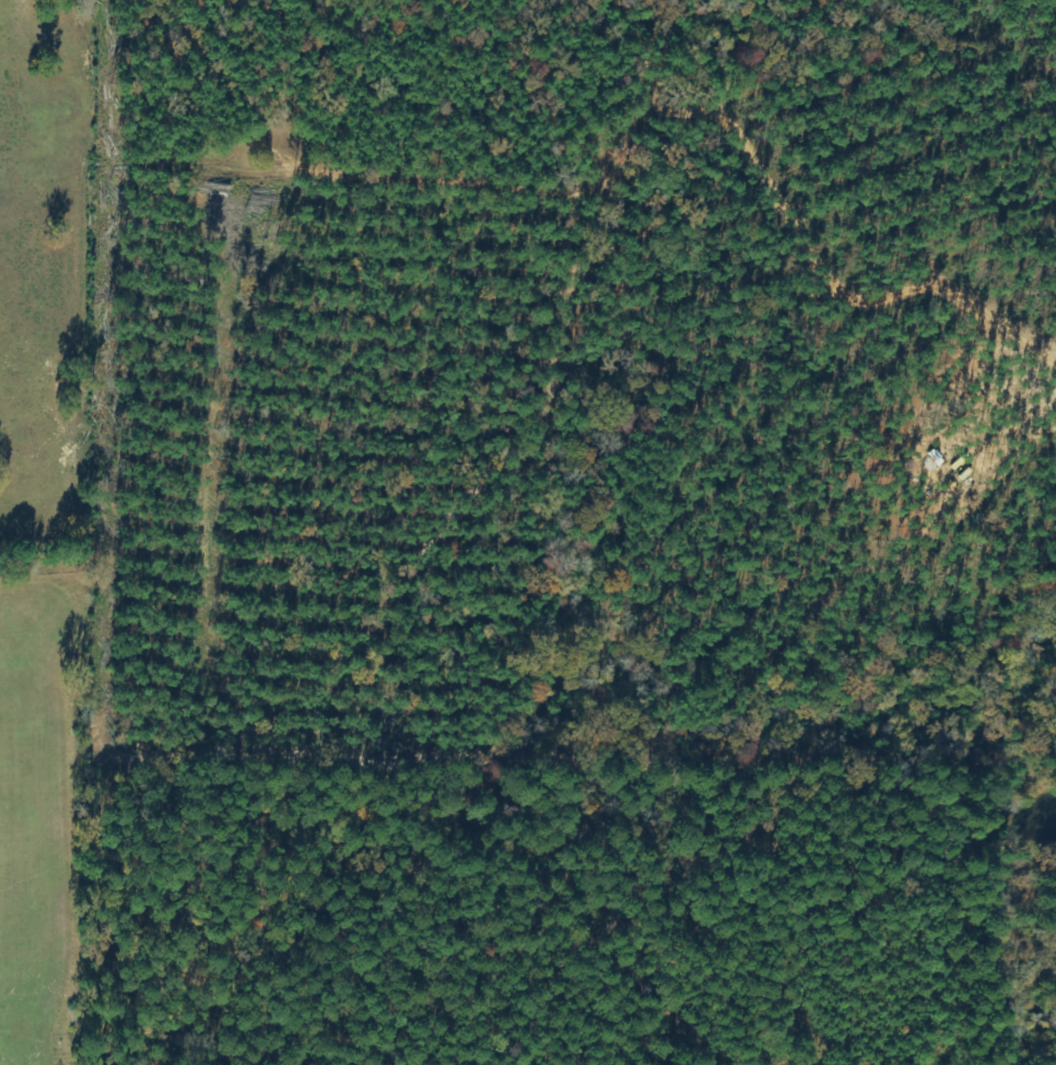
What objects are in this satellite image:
road: (939, 965)

